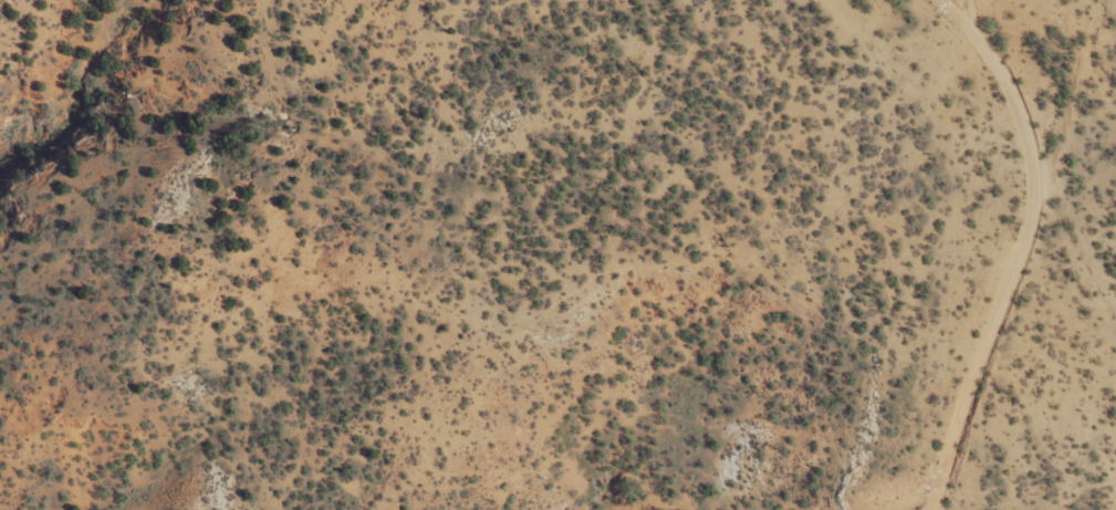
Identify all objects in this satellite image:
road: (995, 49)
road: (1016, 315)

